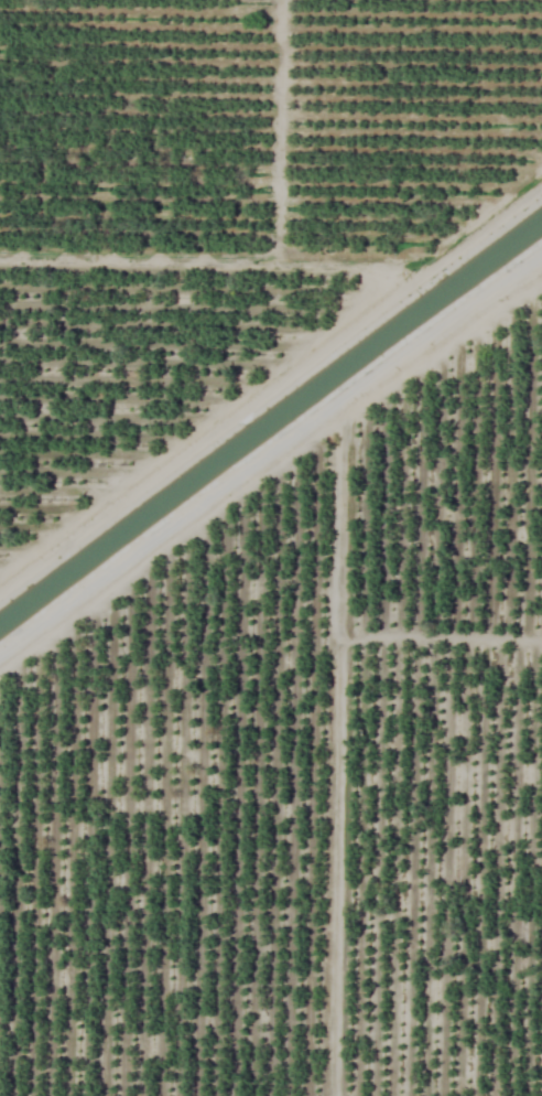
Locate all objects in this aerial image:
road: (263, 254)
road: (264, 459)
crop: (271, 548)

